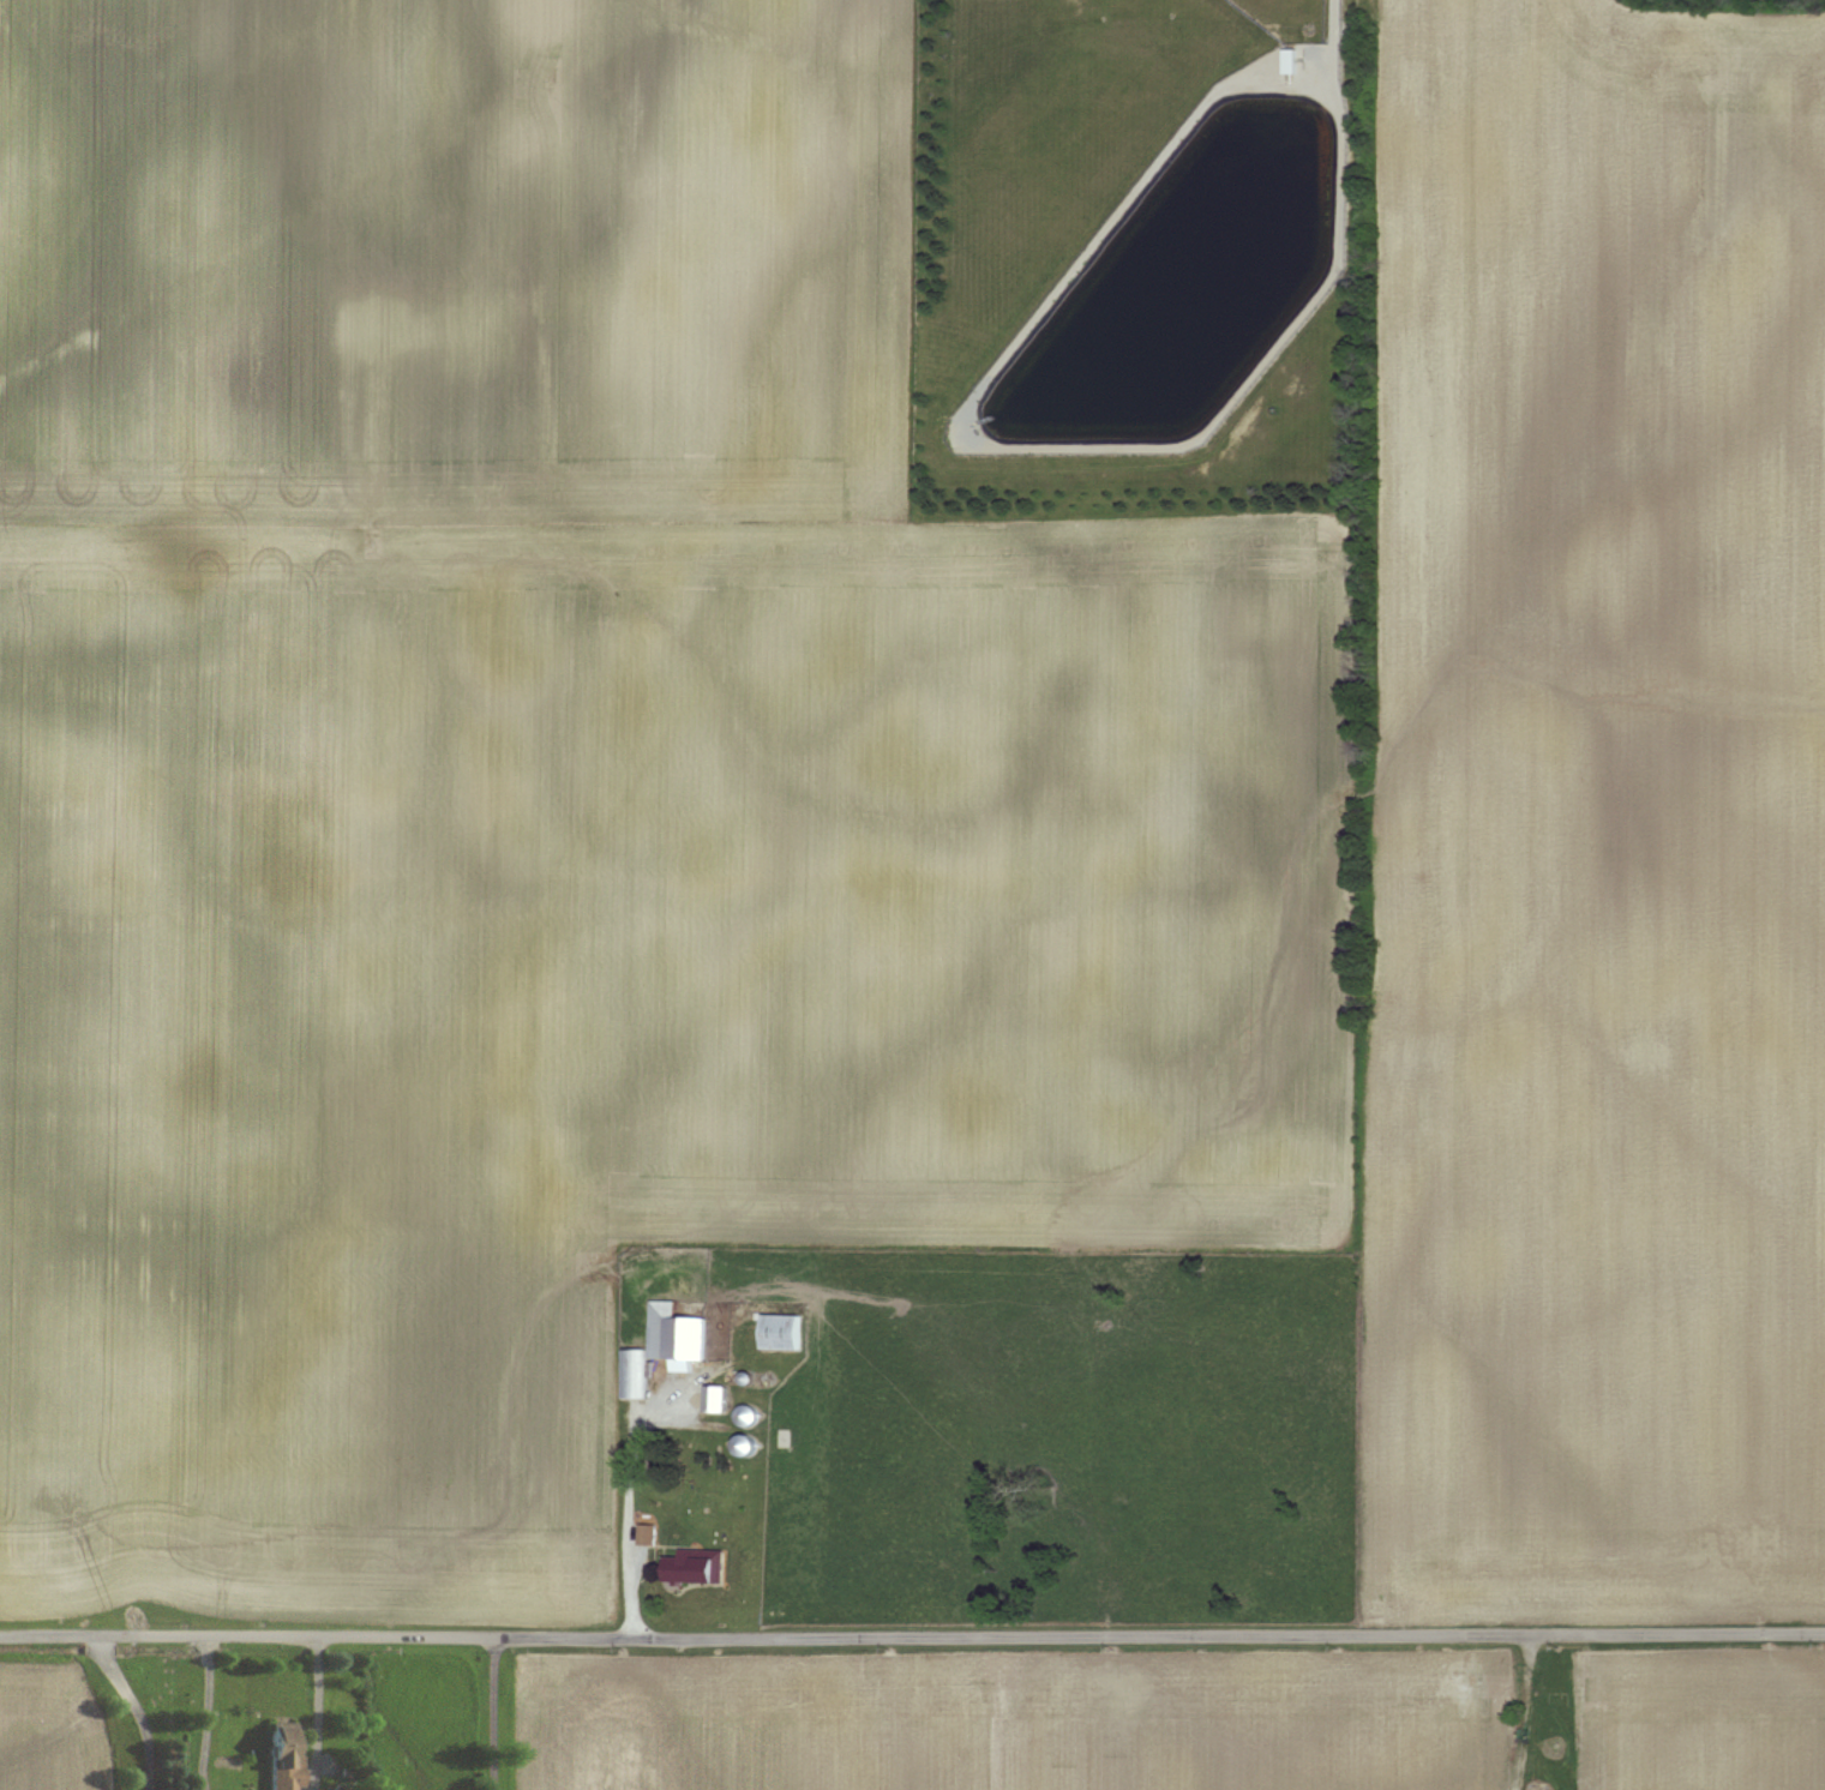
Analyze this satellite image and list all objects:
building: (1296, 60)
building: (785, 1331)
building: (679, 1335)
building: (636, 1372)
building: (720, 1398)
road: (630, 1507)
building: (649, 1533)
building: (698, 1567)
road: (912, 1636)
road: (139, 1711)
road: (206, 1714)
road: (318, 1714)
road: (493, 1714)
building: (284, 1760)

